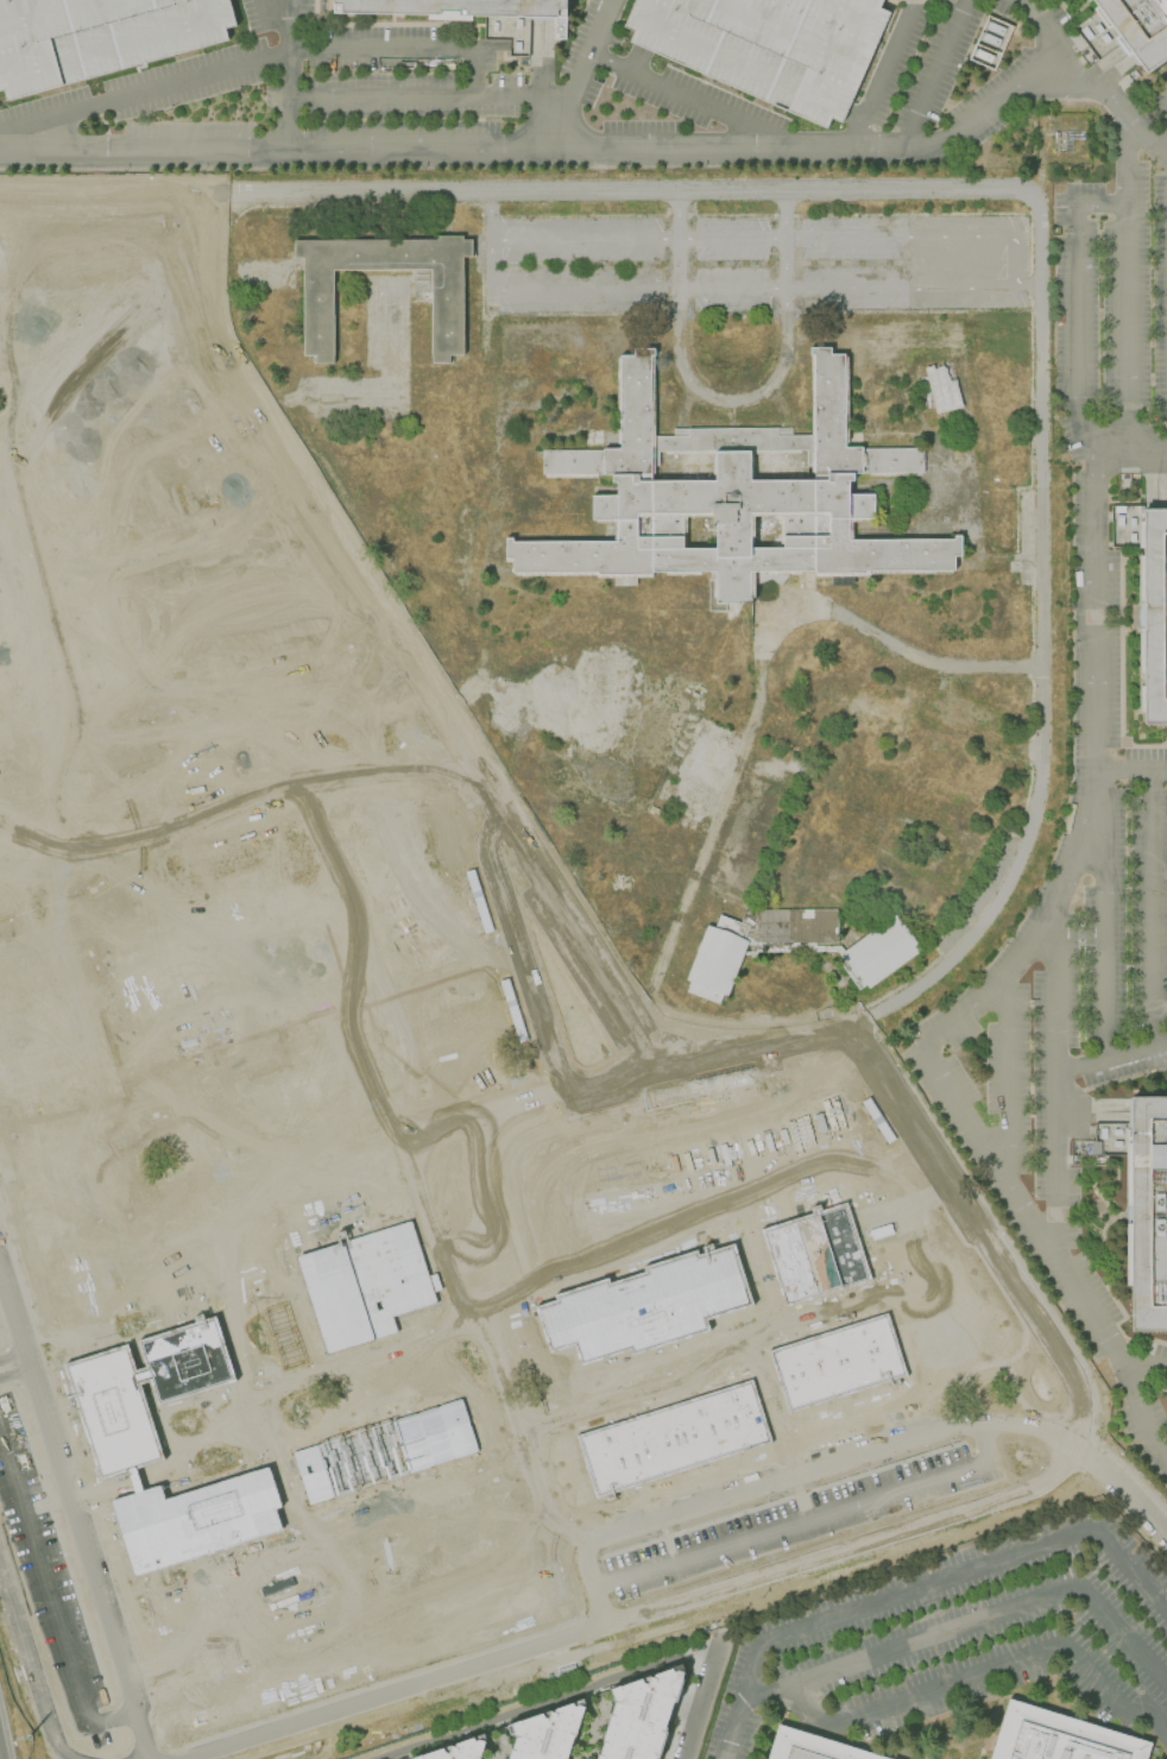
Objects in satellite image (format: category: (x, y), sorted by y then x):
road: (911, 0)
road: (263, 6)
building: (459, 6)
road: (277, 8)
road: (1026, 12)
road: (890, 15)
building: (559, 27)
building: (1140, 27)
building: (99, 37)
parking garage: (99, 37)
road: (562, 39)
building: (989, 42)
building: (769, 45)
parking garage: (769, 45)
road: (379, 50)
road: (637, 58)
road: (580, 72)
road: (881, 72)
road: (933, 72)
road: (286, 74)
road: (472, 74)
road: (138, 76)
road: (1083, 89)
road: (143, 94)
road: (428, 97)
road: (690, 97)
road: (854, 115)
road: (542, 146)
road: (613, 193)
road: (106, 195)
road: (1099, 204)
road: (490, 214)
road: (771, 235)
road: (784, 239)
road: (677, 240)
road: (1028, 280)
building: (439, 284)
road: (731, 288)
road: (1124, 288)
road: (1074, 335)
building: (944, 386)
road: (732, 399)
road: (1129, 465)
building: (732, 498)
road: (1121, 603)
building: (1154, 614)
road: (858, 624)
road: (1041, 638)
road: (395, 644)
road: (963, 724)
parking lot: (1090, 739)
road: (1097, 763)
road: (1133, 773)
road: (1150, 910)
building: (800, 925)
building: (752, 932)
road: (1030, 944)
road: (523, 948)
building: (878, 952)
building: (718, 959)
road: (709, 1058)
road: (1110, 1060)
road: (1118, 1080)
road: (1004, 1083)
road: (1054, 1089)
road: (1087, 1103)
building: (1147, 1213)
road: (1047, 1252)
road: (1114, 1267)
road: (1017, 1286)
road: (12, 1364)
road: (1143, 1364)
road: (788, 1477)
road: (808, 1518)
road: (72, 1519)
road: (1131, 1569)
road: (931, 1580)
road: (50, 1600)
road: (638, 1614)
road: (972, 1619)
road: (30, 1667)
road: (990, 1669)
road: (700, 1695)
road: (740, 1696)
road: (545, 1701)
building: (642, 1715)
building: (548, 1732)
building: (1060, 1734)
power tower: (29, 1741)
building: (814, 1745)
building: (461, 1749)
road: (0, 1757)

